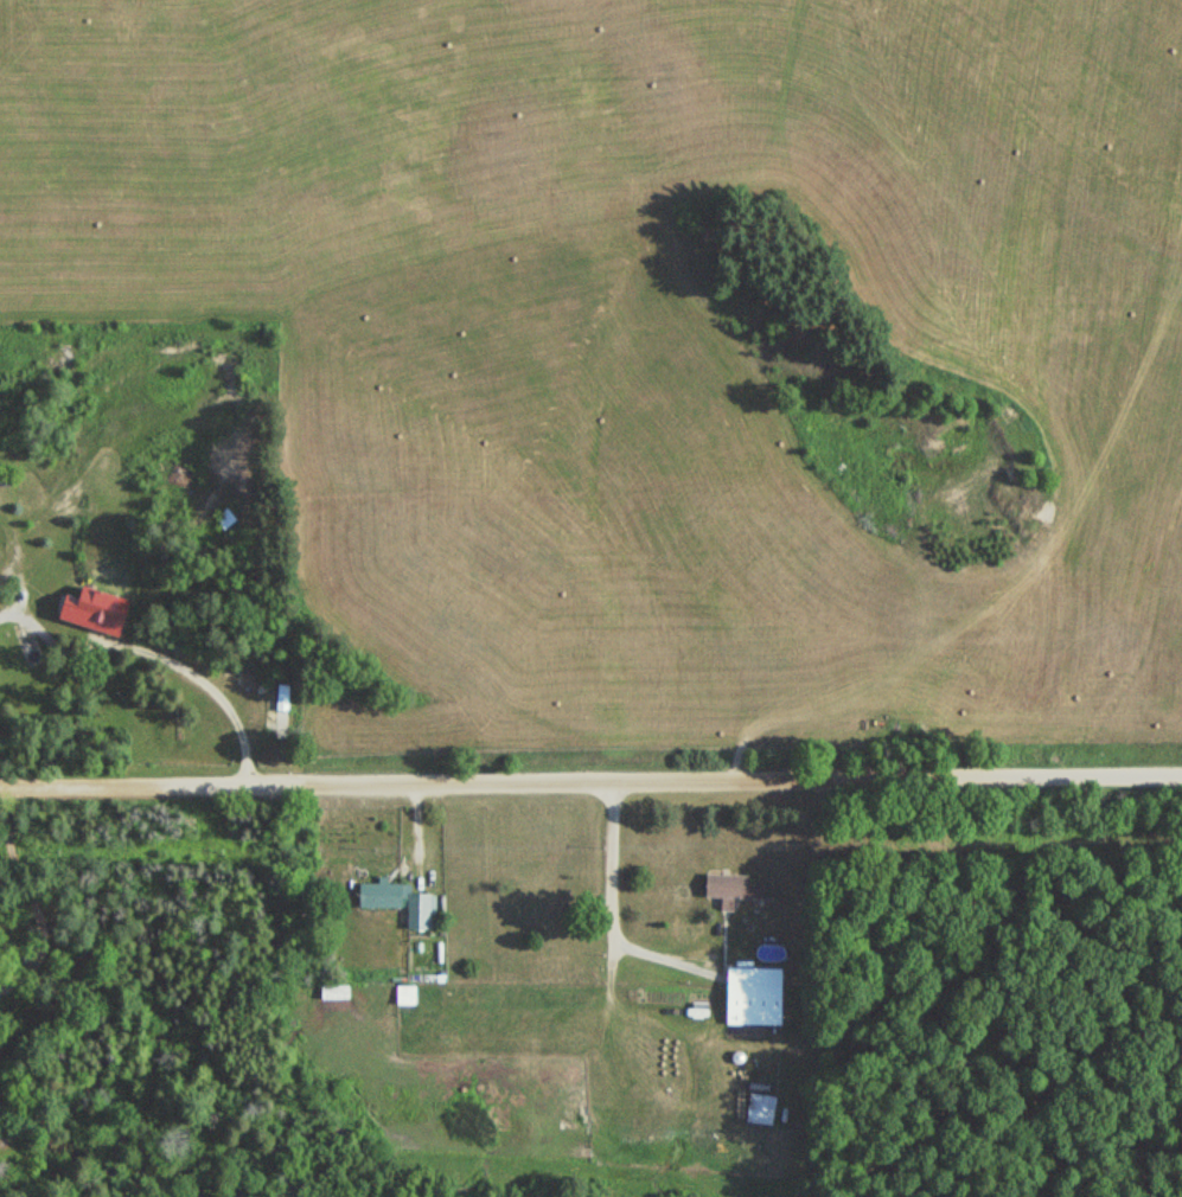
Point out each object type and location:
building: (234, 518)
building: (103, 610)
building: (279, 708)
road: (590, 788)
building: (729, 889)
building: (402, 901)
building: (410, 994)
building: (750, 996)
building: (758, 1108)

